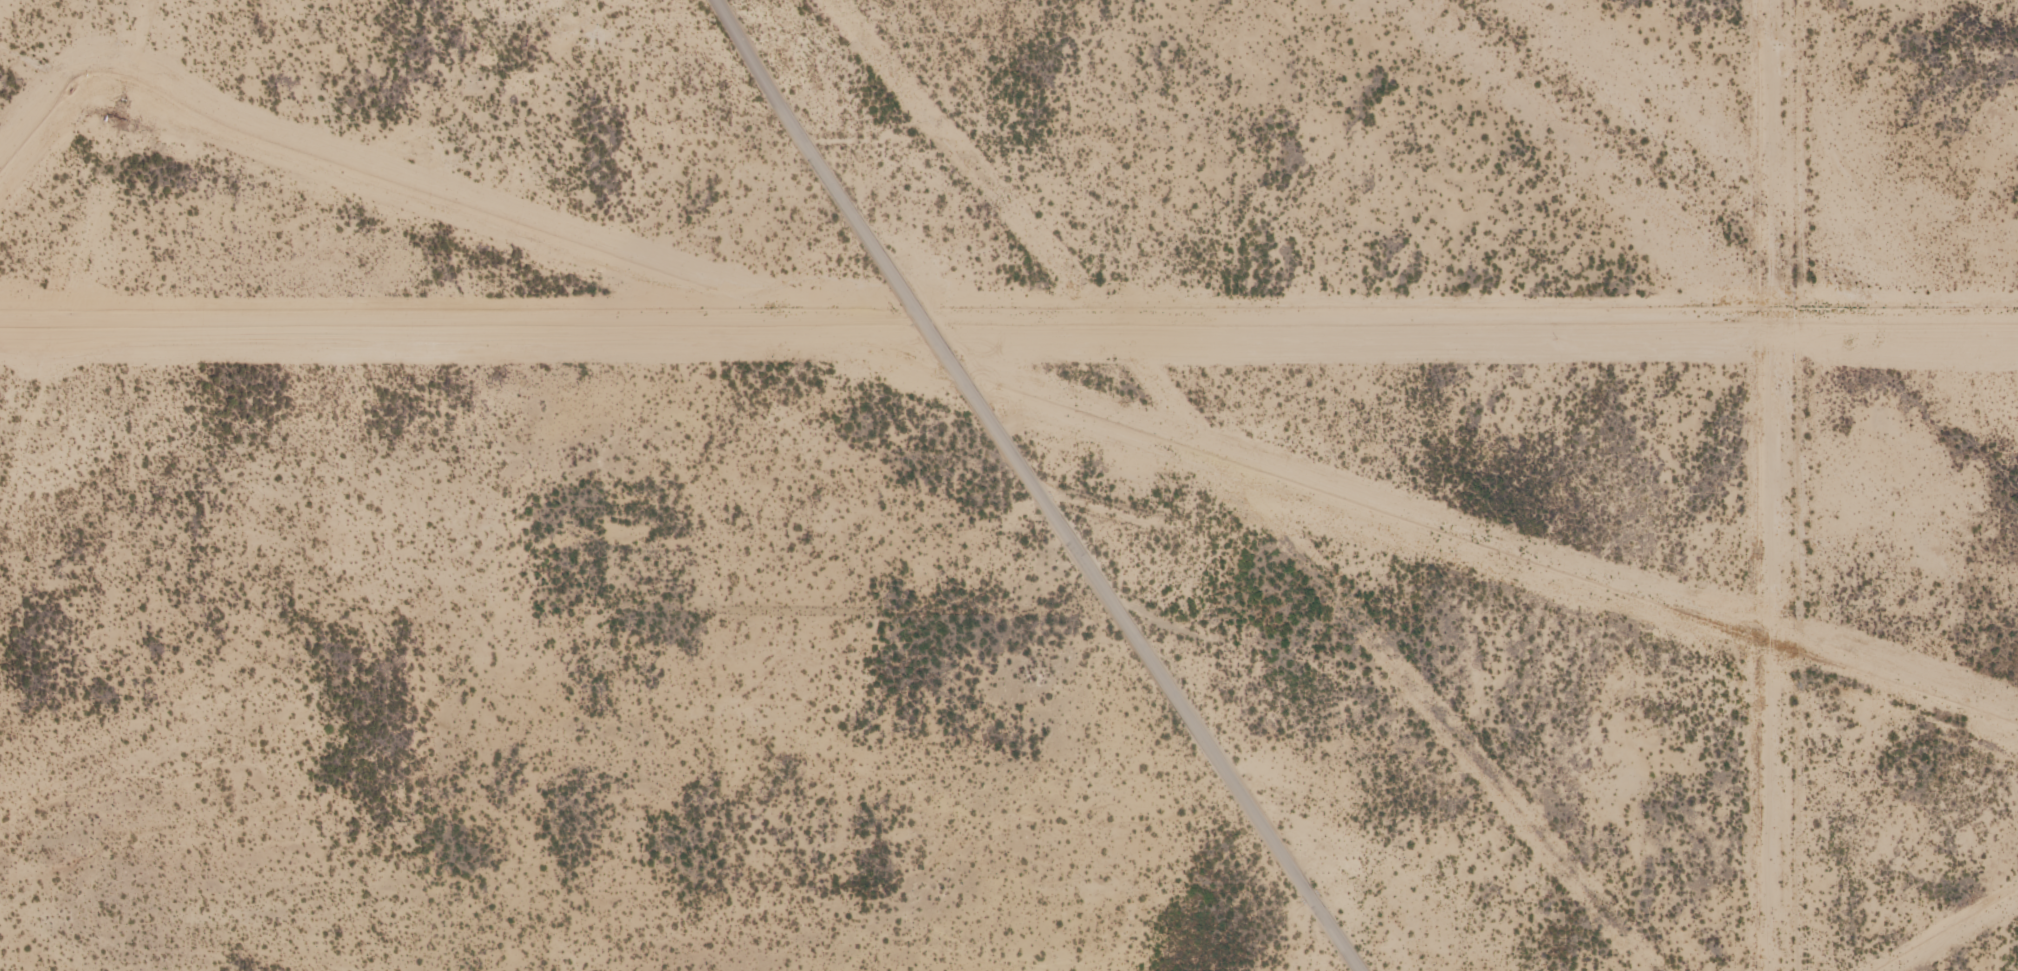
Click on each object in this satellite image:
road: (1030, 480)
road: (1796, 485)

